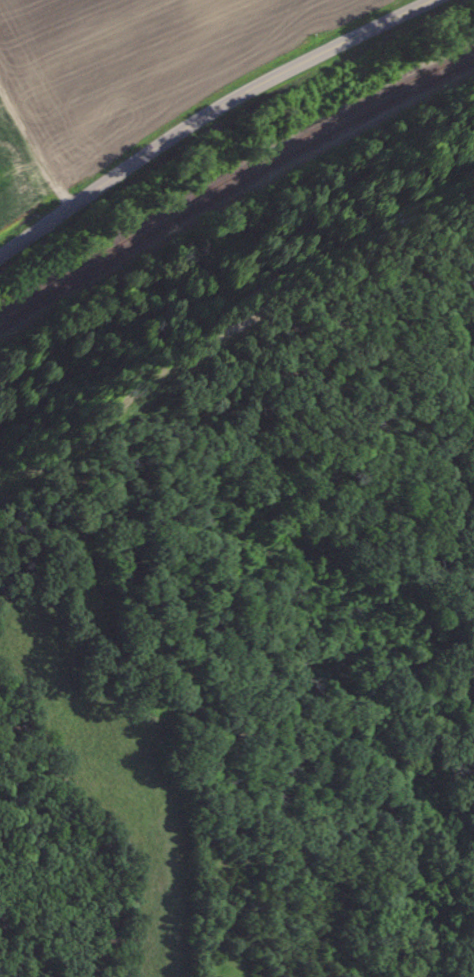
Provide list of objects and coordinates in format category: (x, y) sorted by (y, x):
road: (204, 113)
railway: (233, 171)
railway: (232, 189)

